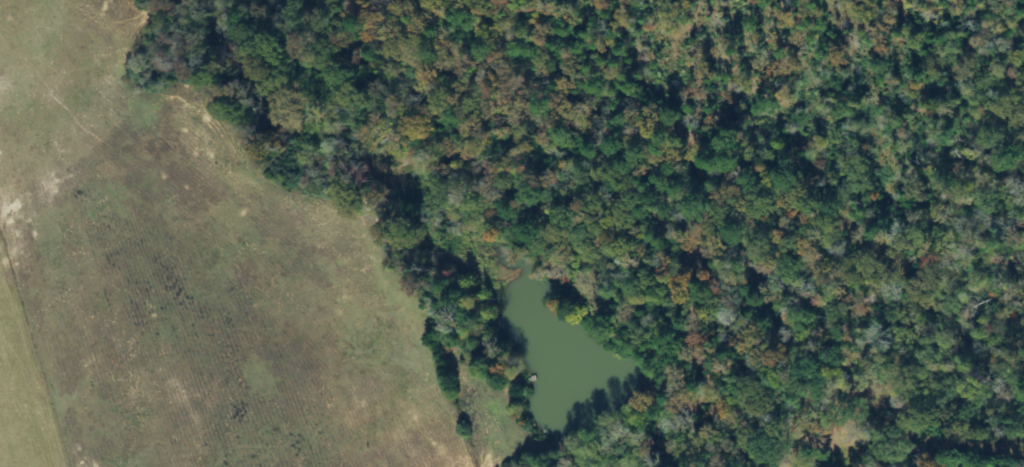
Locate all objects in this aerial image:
road: (50, 11)

